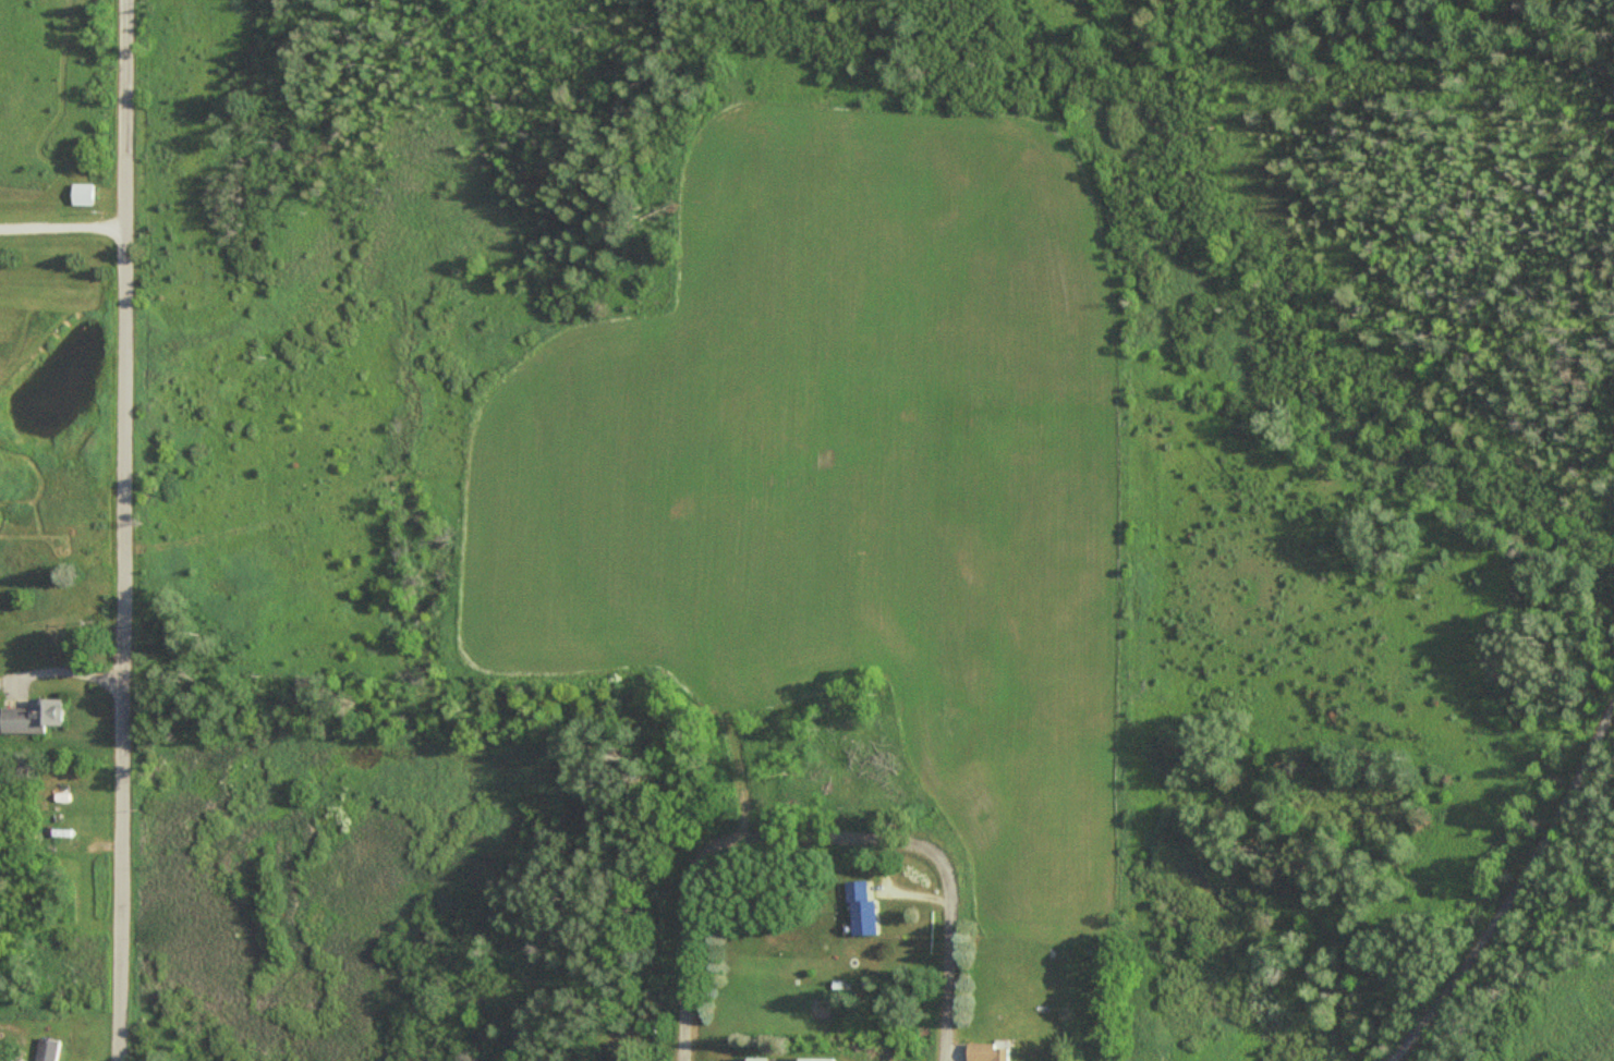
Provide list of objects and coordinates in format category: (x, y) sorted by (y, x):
building: (82, 194)
road: (122, 530)
building: (31, 715)
road: (822, 837)
building: (69, 843)
road: (1516, 893)
building: (861, 908)
road: (684, 952)
road: (947, 955)
building: (47, 1049)
building: (985, 1051)
building: (4, 1057)
building: (782, 1059)

